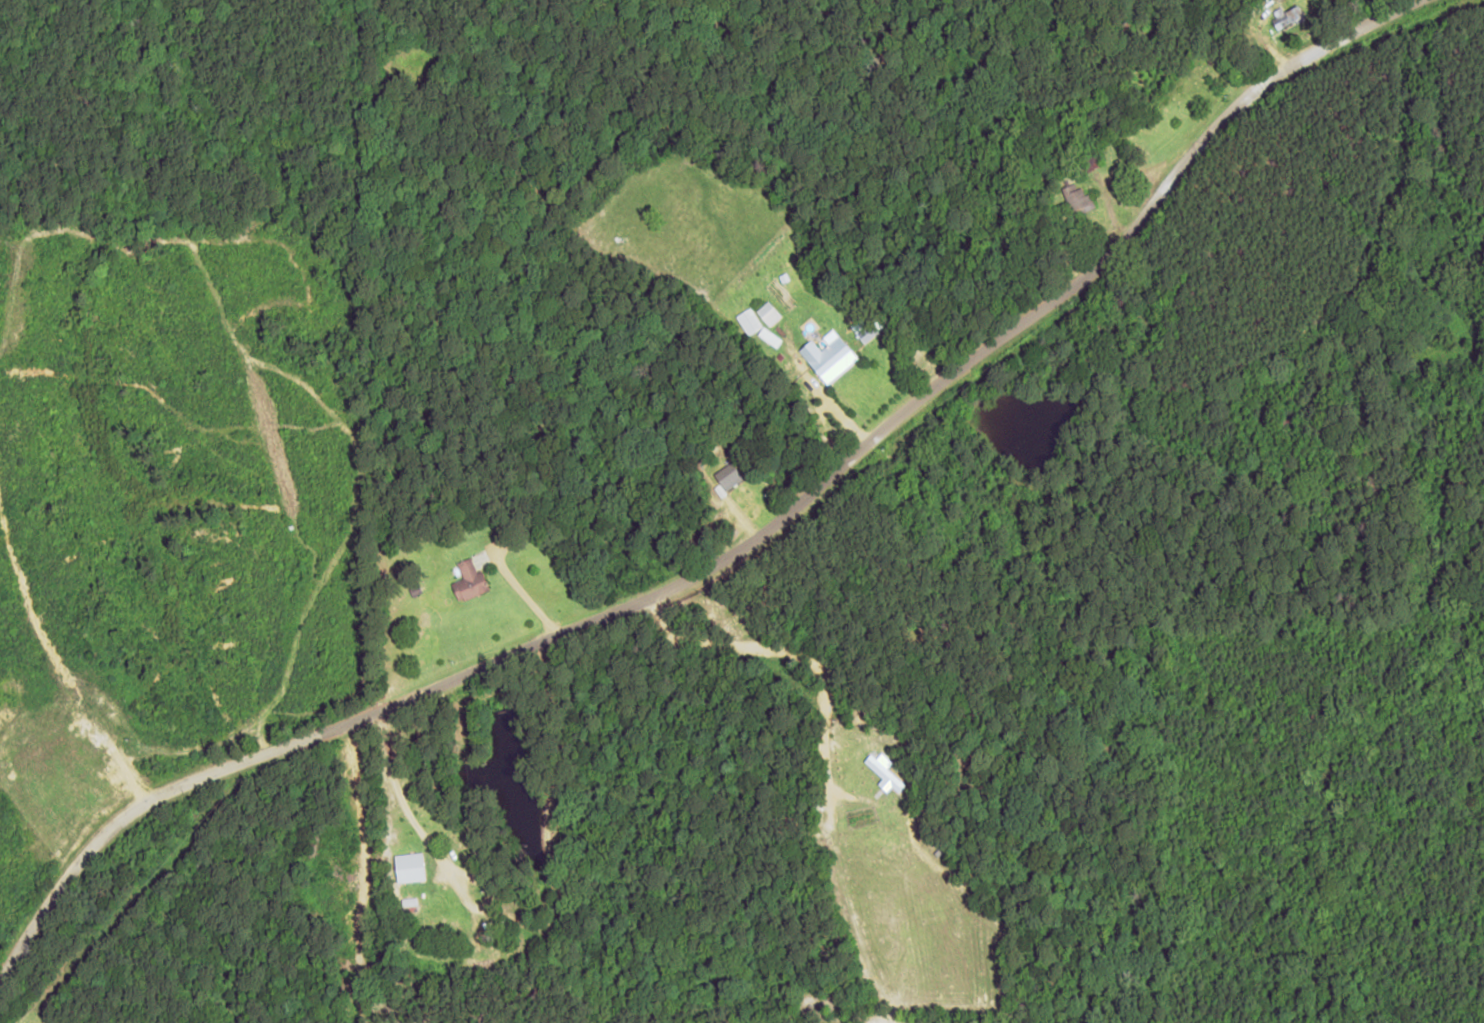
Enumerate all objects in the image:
building: (1288, 17)
building: (1077, 197)
building: (767, 313)
building: (827, 356)
building: (727, 476)
road: (733, 546)
building: (468, 581)
building: (883, 773)
building: (408, 866)

